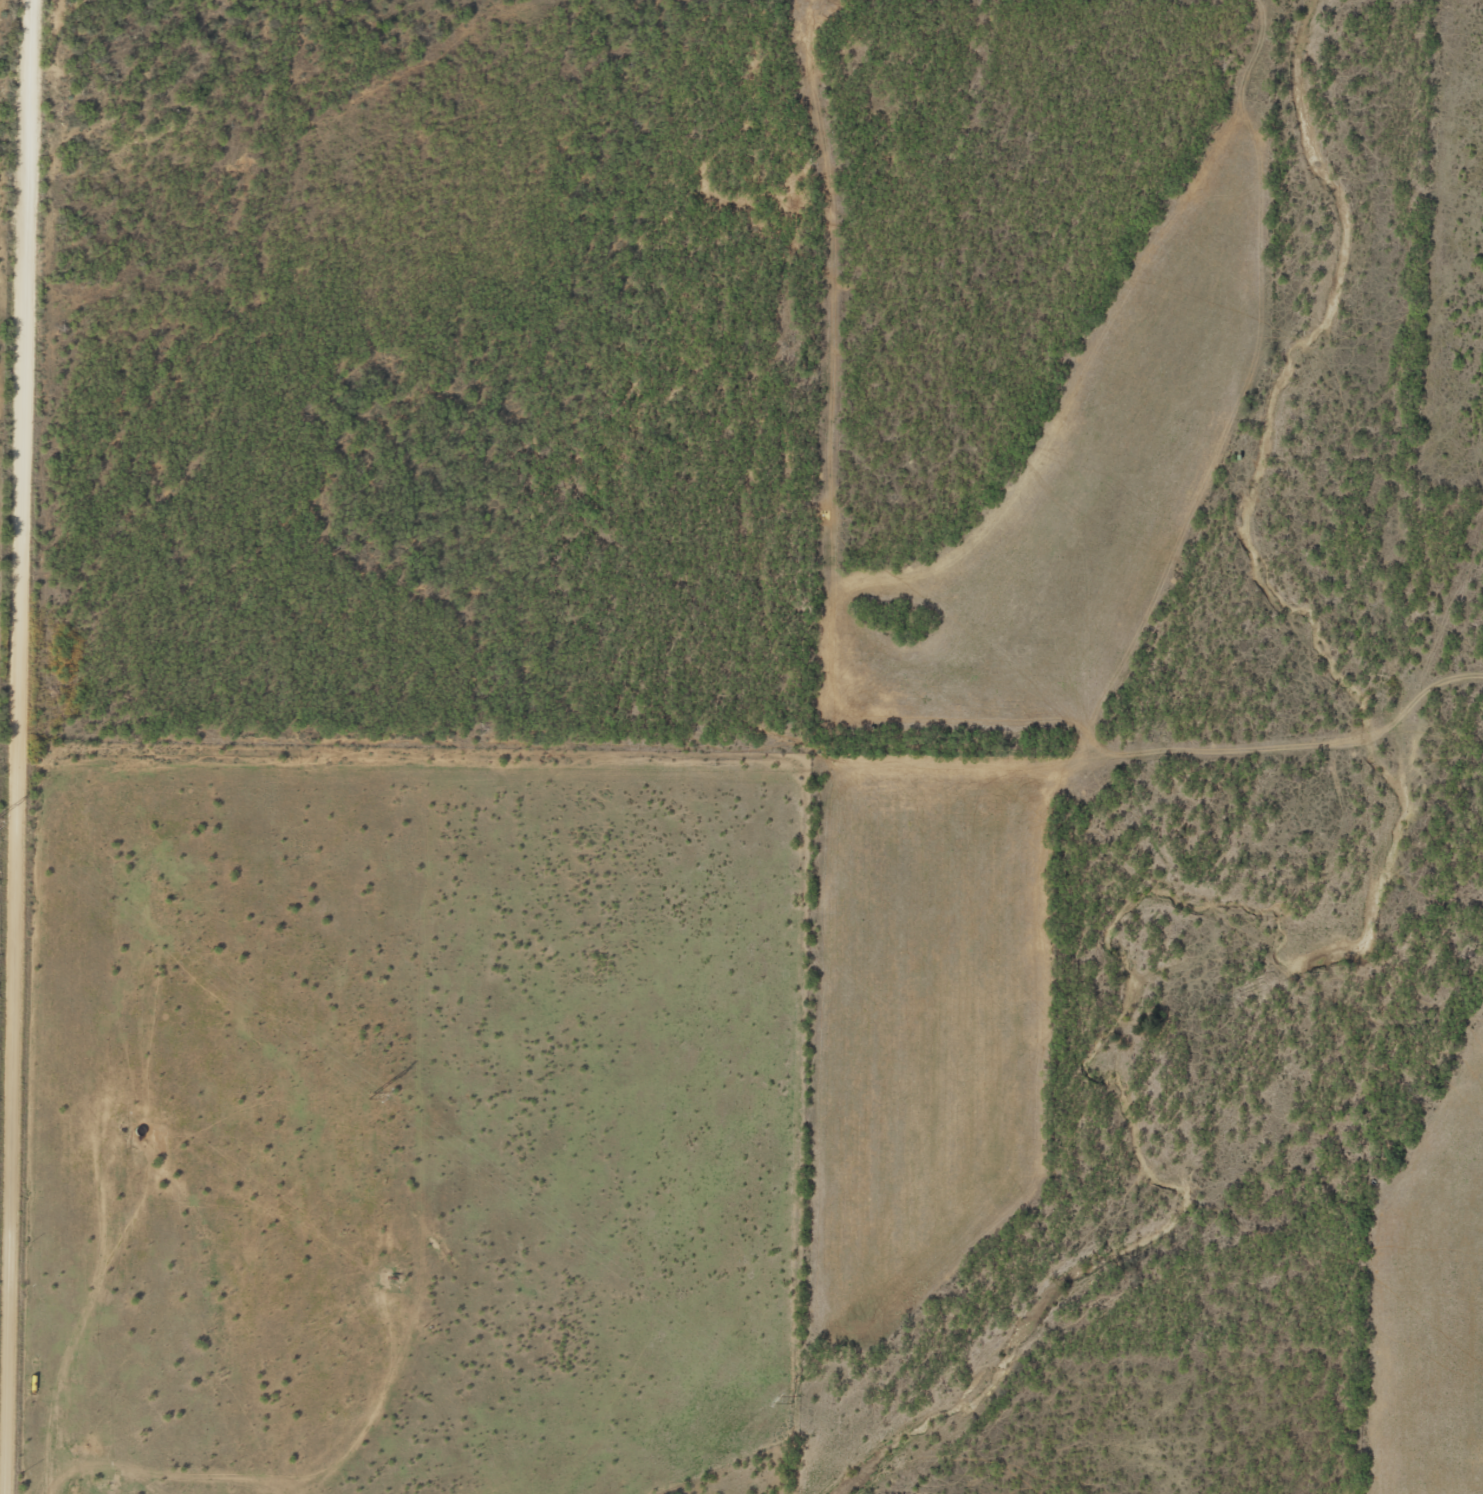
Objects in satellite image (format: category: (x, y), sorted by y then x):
road: (725, 64)
road: (948, 99)
road: (523, 224)
road: (4, 271)
road: (1, 636)
power tower: (372, 1094)
power tower: (794, 1398)

